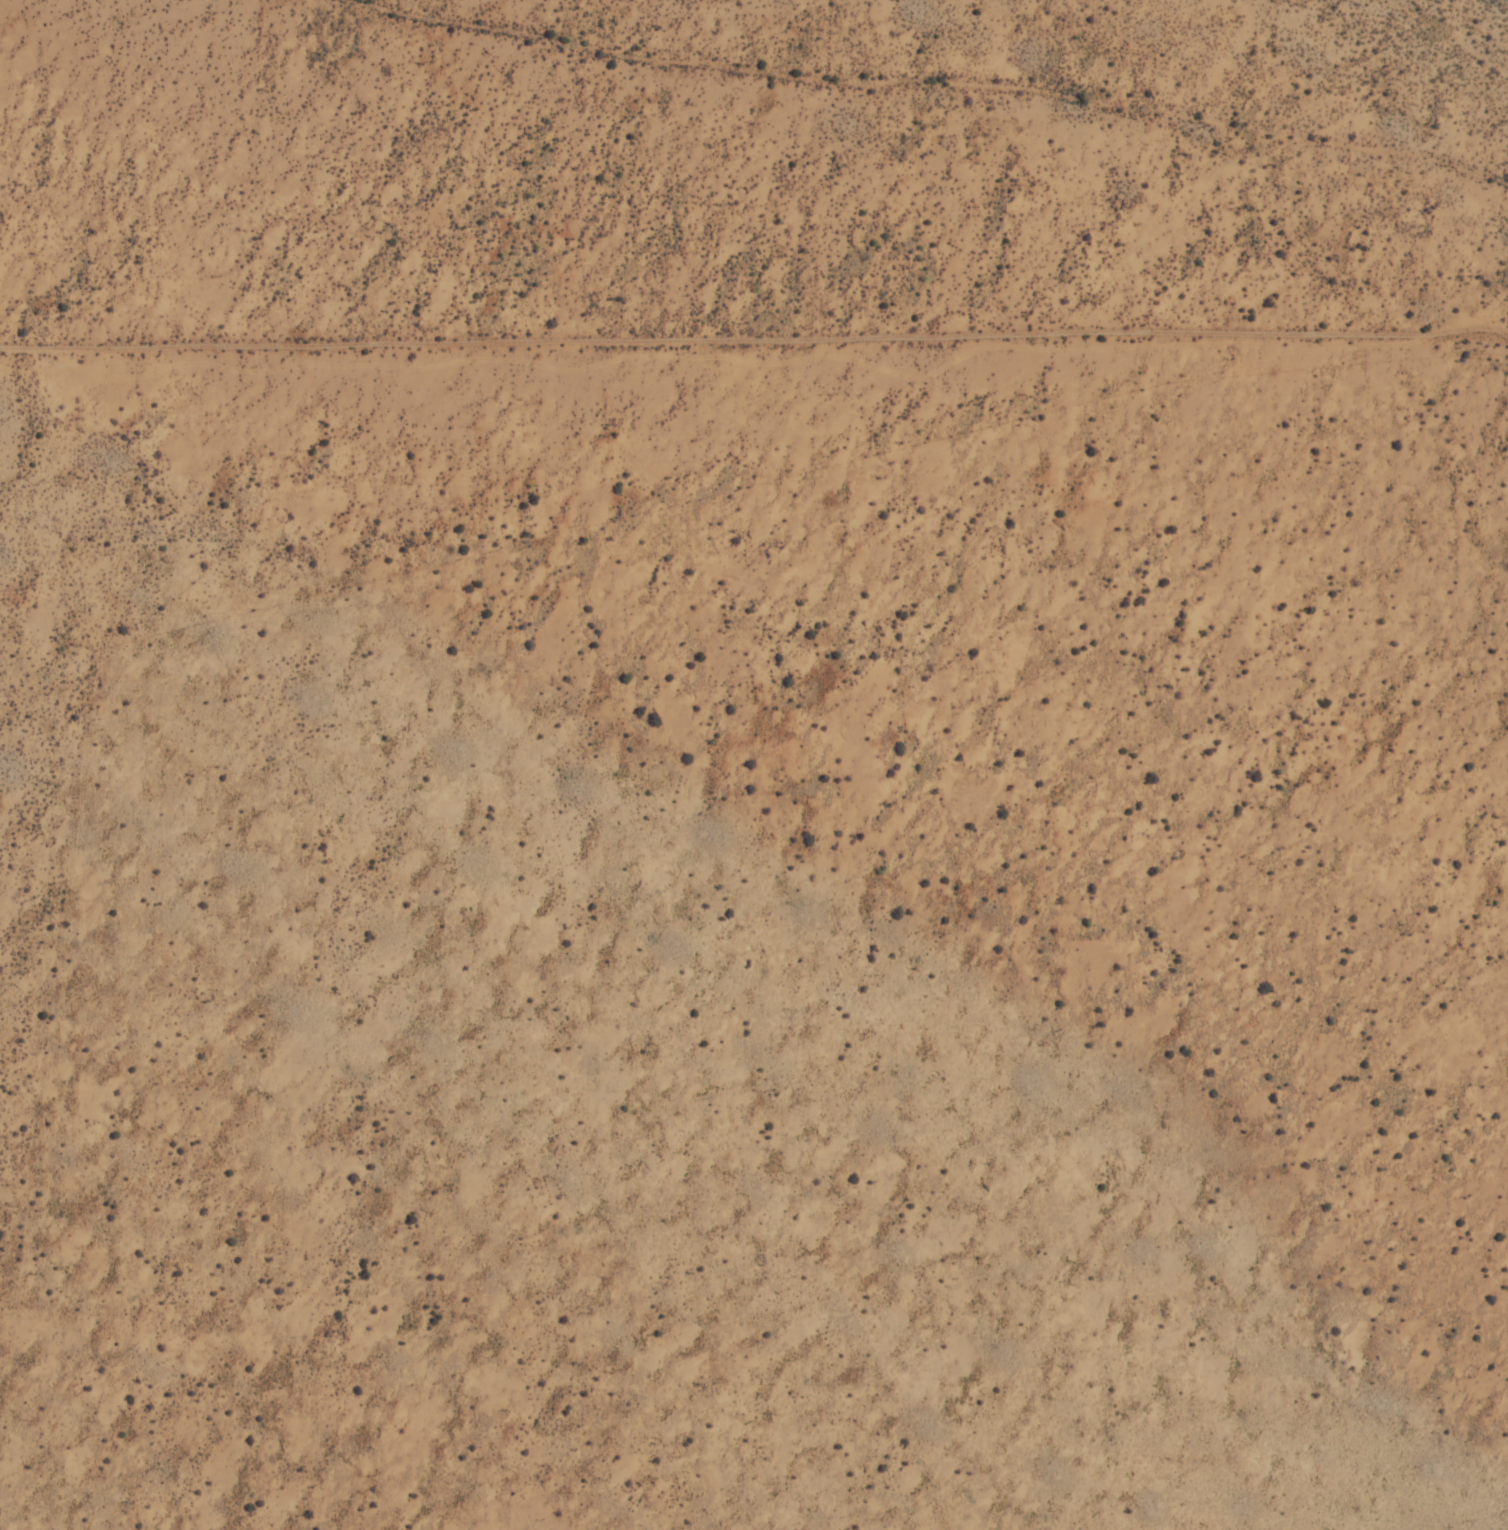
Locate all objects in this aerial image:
road: (1275, 26)
road: (1426, 190)
road: (755, 330)

